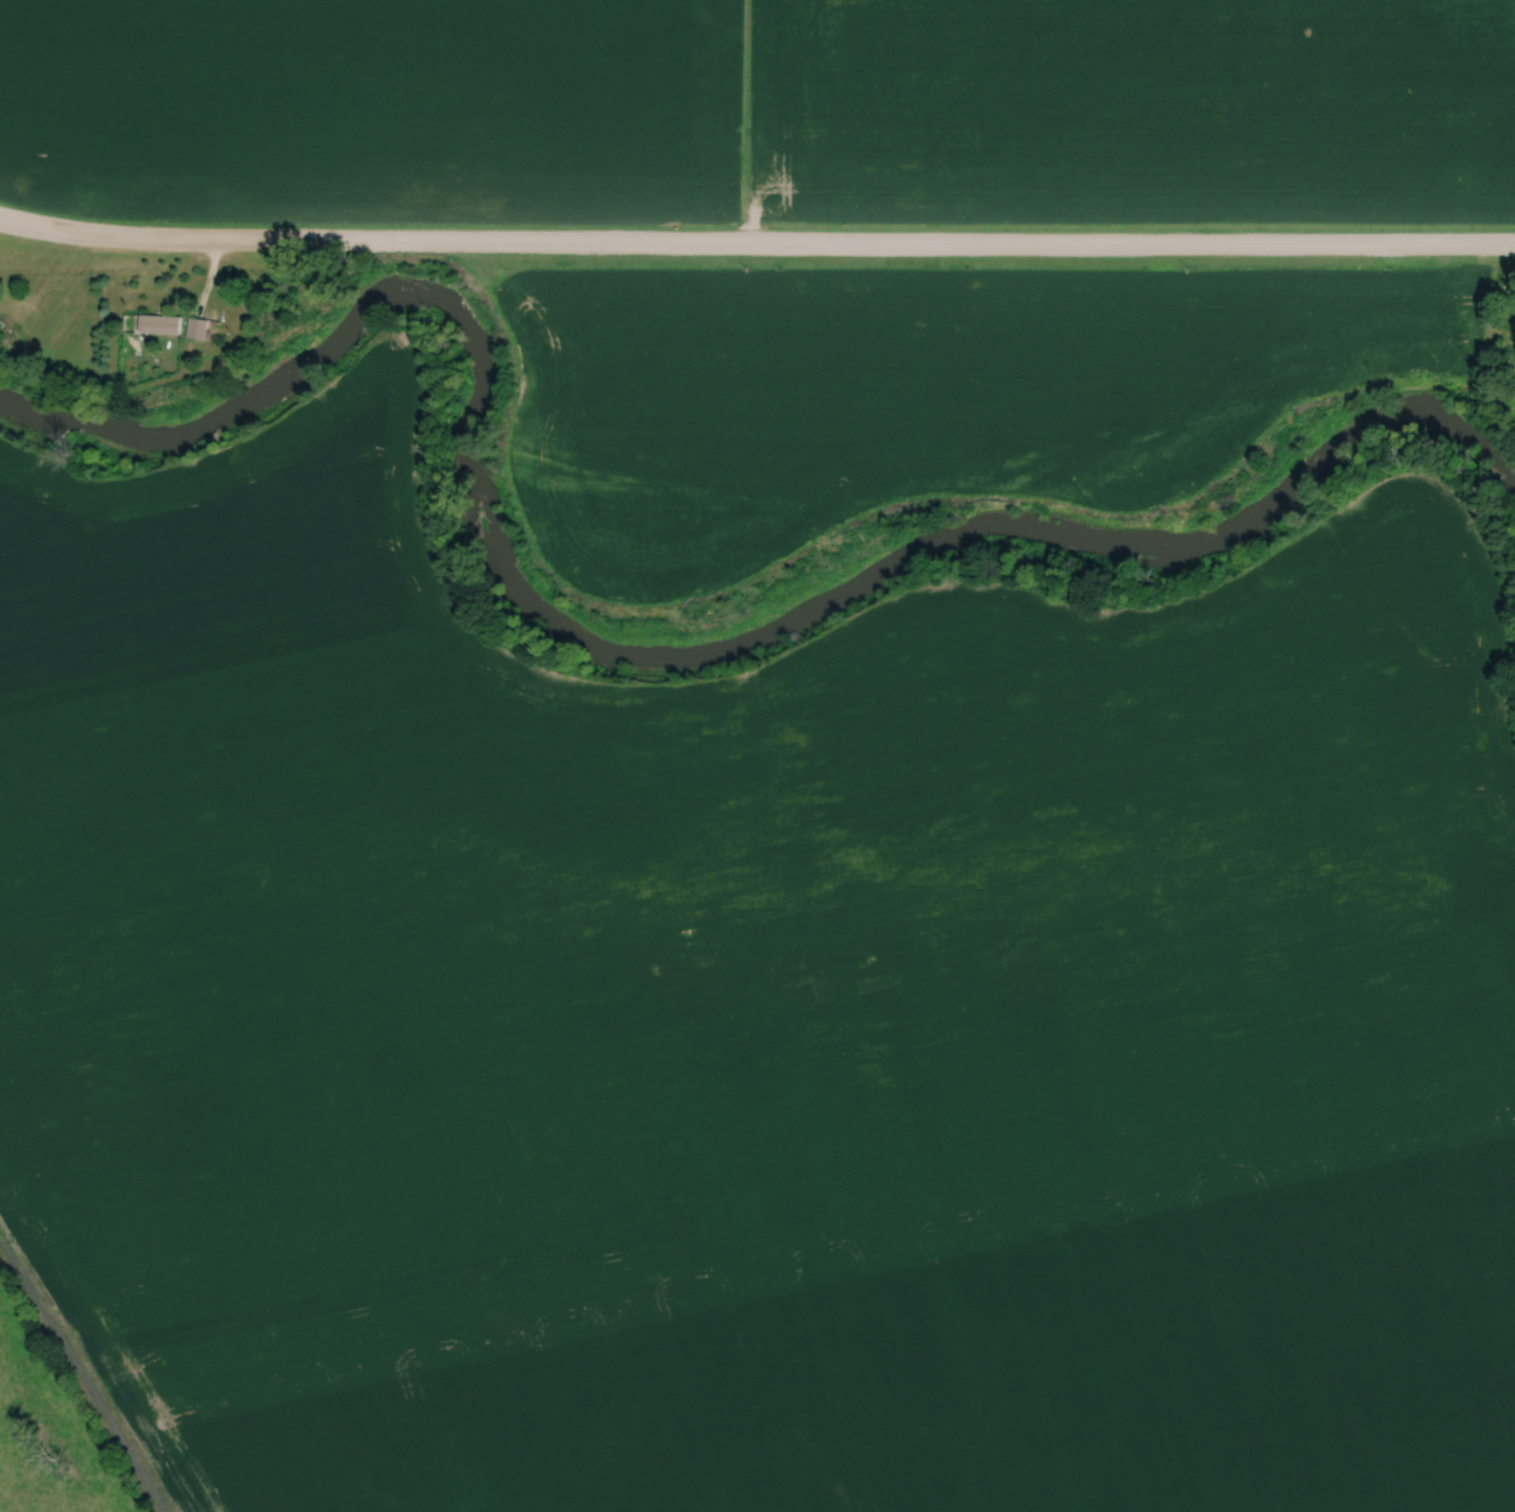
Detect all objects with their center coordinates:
road: (756, 243)
building: (161, 323)
building: (198, 328)
river: (641, 648)

